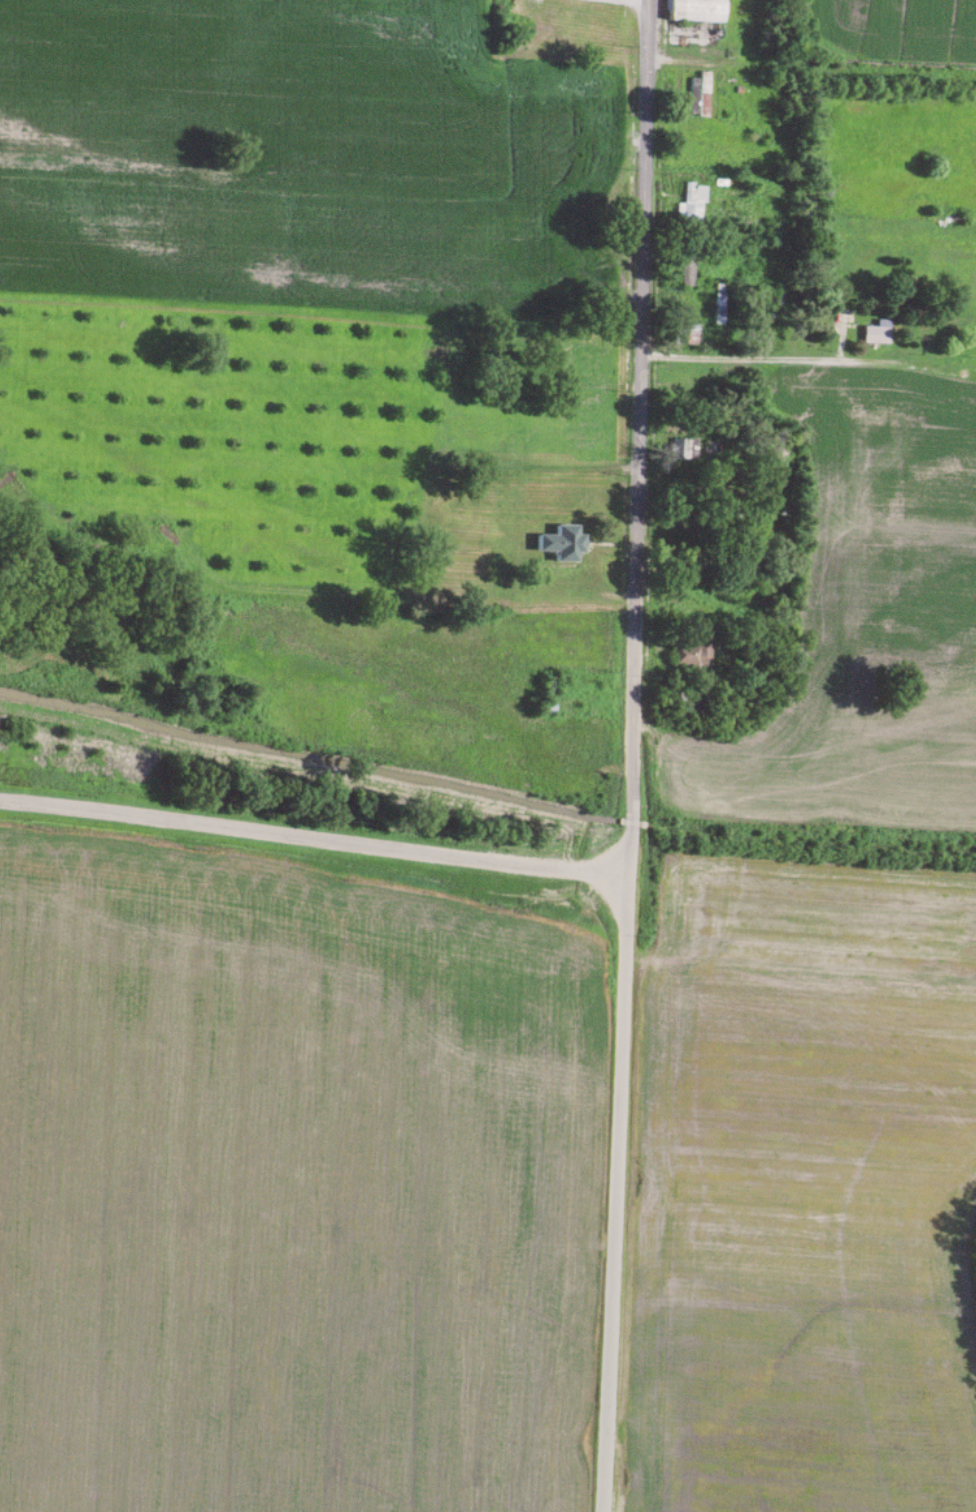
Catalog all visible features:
building: (694, 11)
road: (724, 65)
building: (702, 104)
building: (690, 204)
building: (582, 252)
building: (685, 269)
building: (718, 304)
building: (682, 334)
building: (874, 335)
building: (594, 358)
road: (769, 359)
building: (581, 414)
road: (637, 437)
building: (682, 449)
building: (715, 477)
building: (561, 543)
building: (692, 654)
building: (546, 708)
road: (313, 839)
road: (613, 1193)

